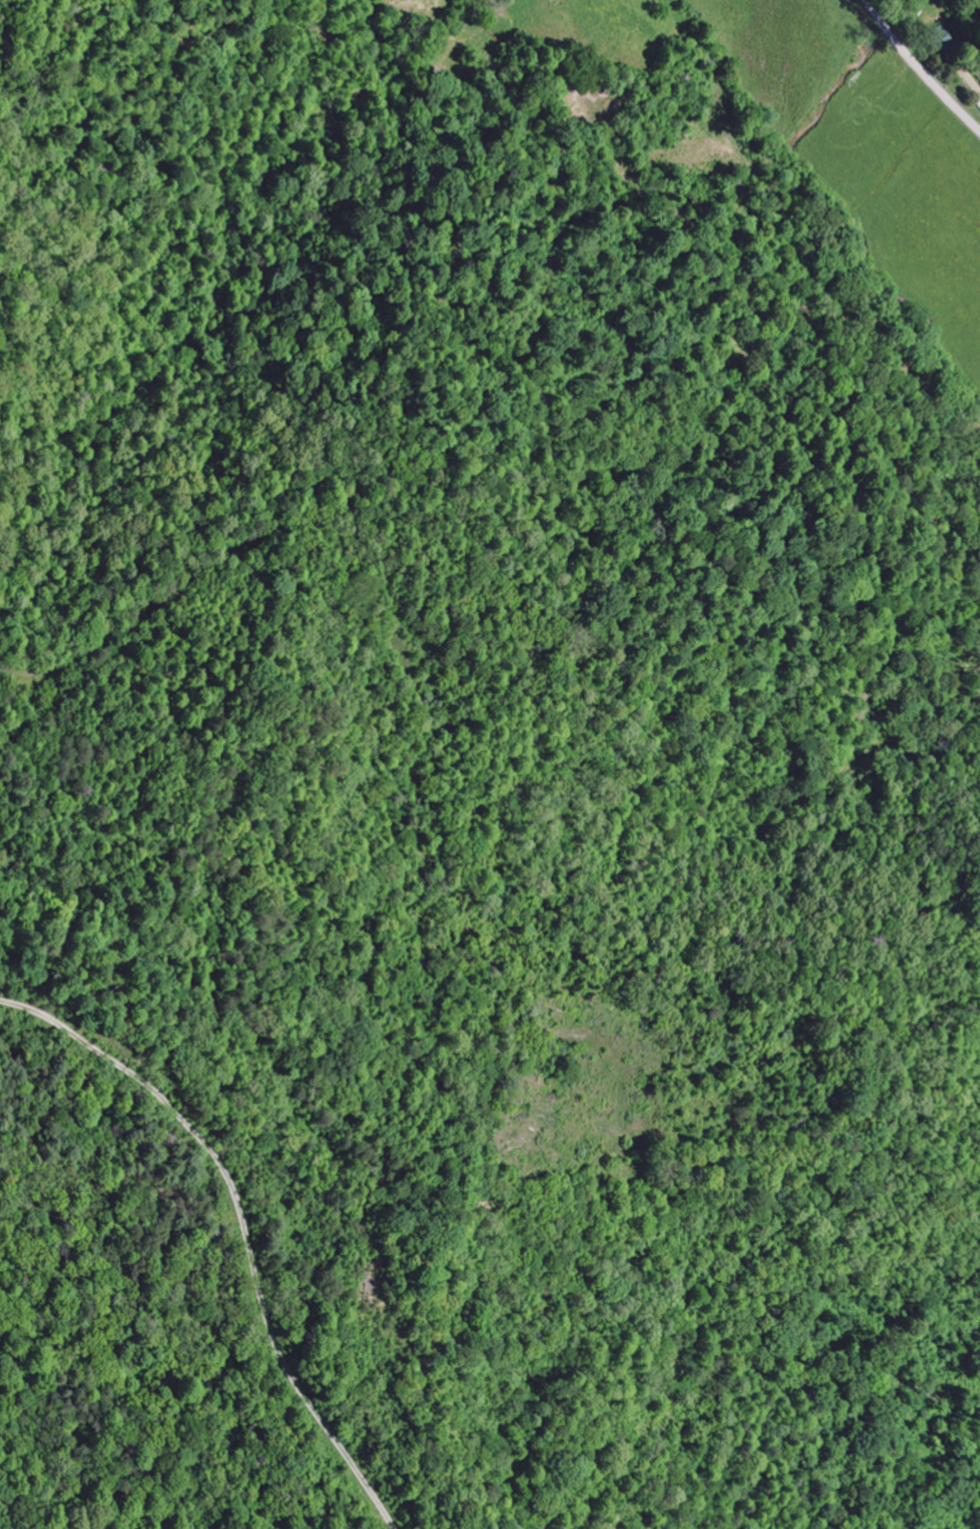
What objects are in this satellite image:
road: (919, 67)

